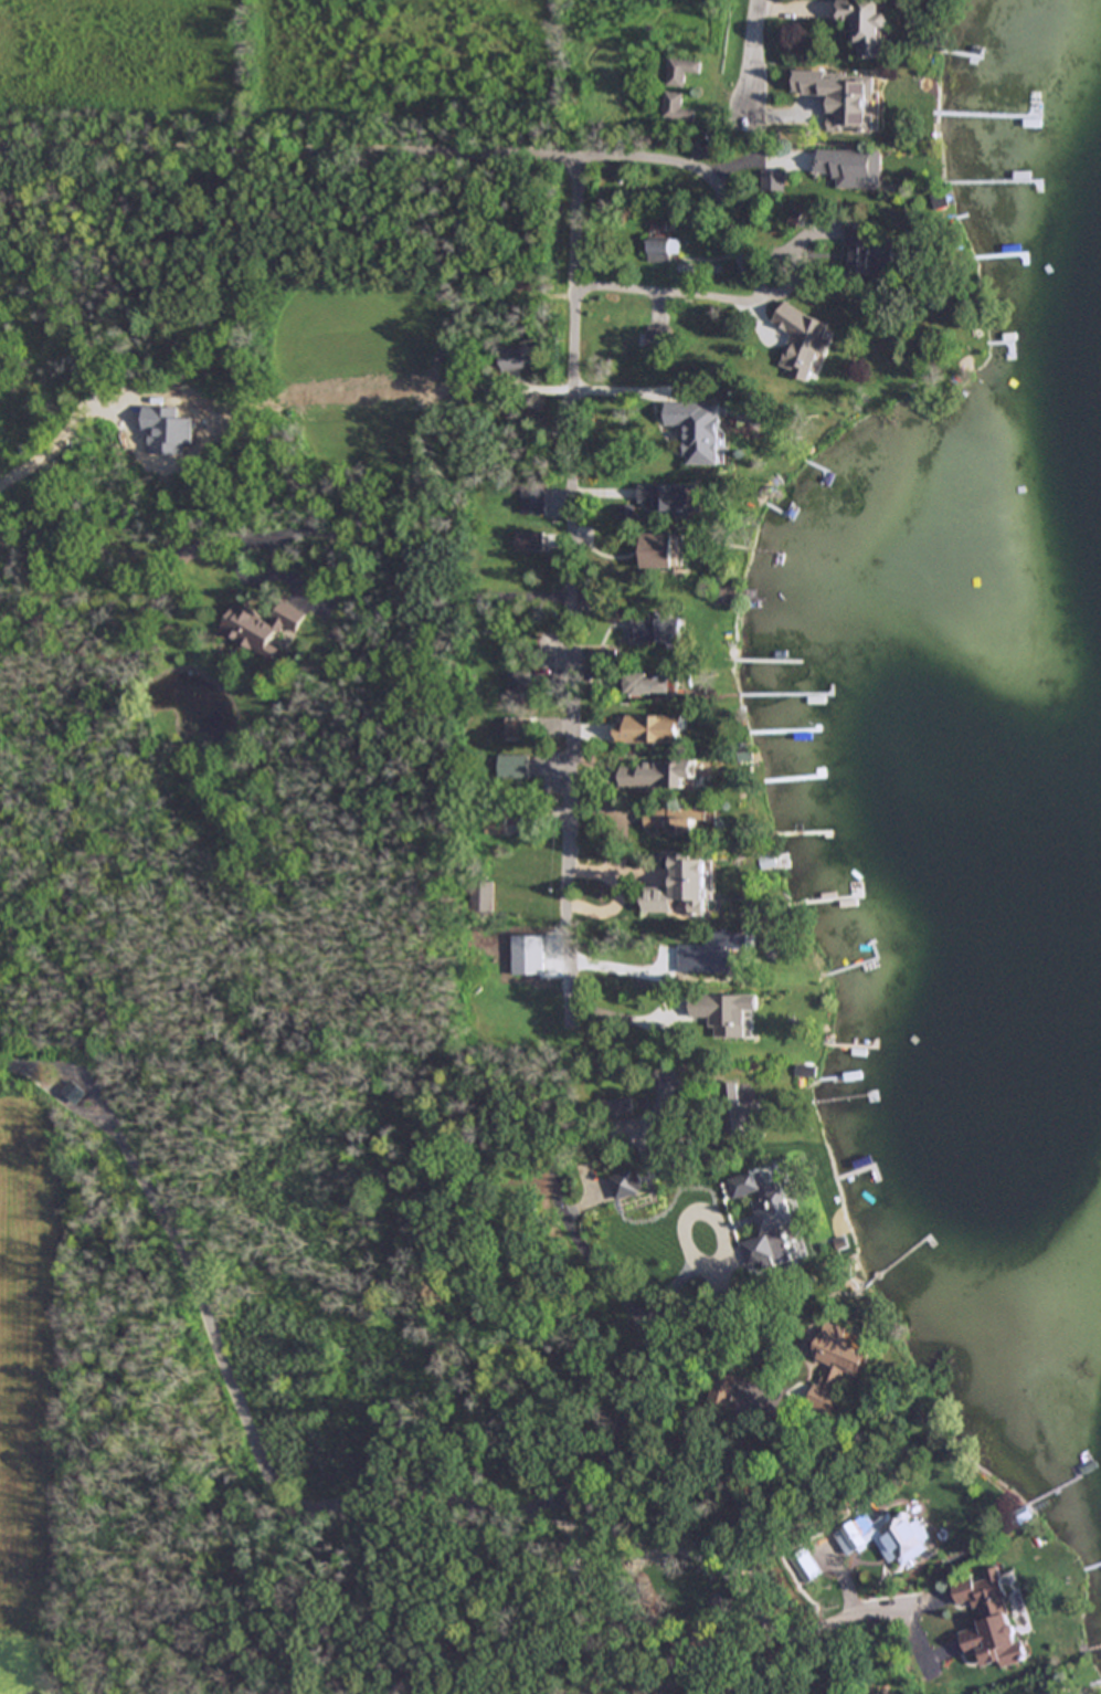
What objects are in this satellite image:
building: (866, 25)
road: (755, 54)
building: (680, 71)
building: (841, 96)
building: (676, 107)
road: (288, 162)
road: (734, 164)
road: (643, 166)
building: (850, 166)
building: (774, 181)
building: (661, 248)
building: (867, 252)
road: (803, 262)
road: (738, 301)
building: (658, 336)
building: (803, 340)
building: (517, 358)
building: (698, 429)
building: (667, 497)
building: (532, 499)
building: (528, 539)
road: (390, 546)
building: (657, 550)
building: (727, 595)
road: (573, 601)
building: (261, 625)
building: (654, 627)
building: (520, 684)
building: (652, 684)
building: (650, 729)
building: (510, 766)
building: (656, 774)
building: (681, 816)
building: (497, 820)
road: (631, 859)
building: (685, 886)
road: (620, 890)
building: (484, 894)
building: (727, 1011)
building: (617, 1106)
building: (742, 1108)
building: (692, 1230)
building: (772, 1232)
building: (836, 1364)
building: (721, 1388)
road: (392, 1498)
building: (950, 1511)
road: (654, 1551)
building: (989, 1619)
building: (931, 1630)

